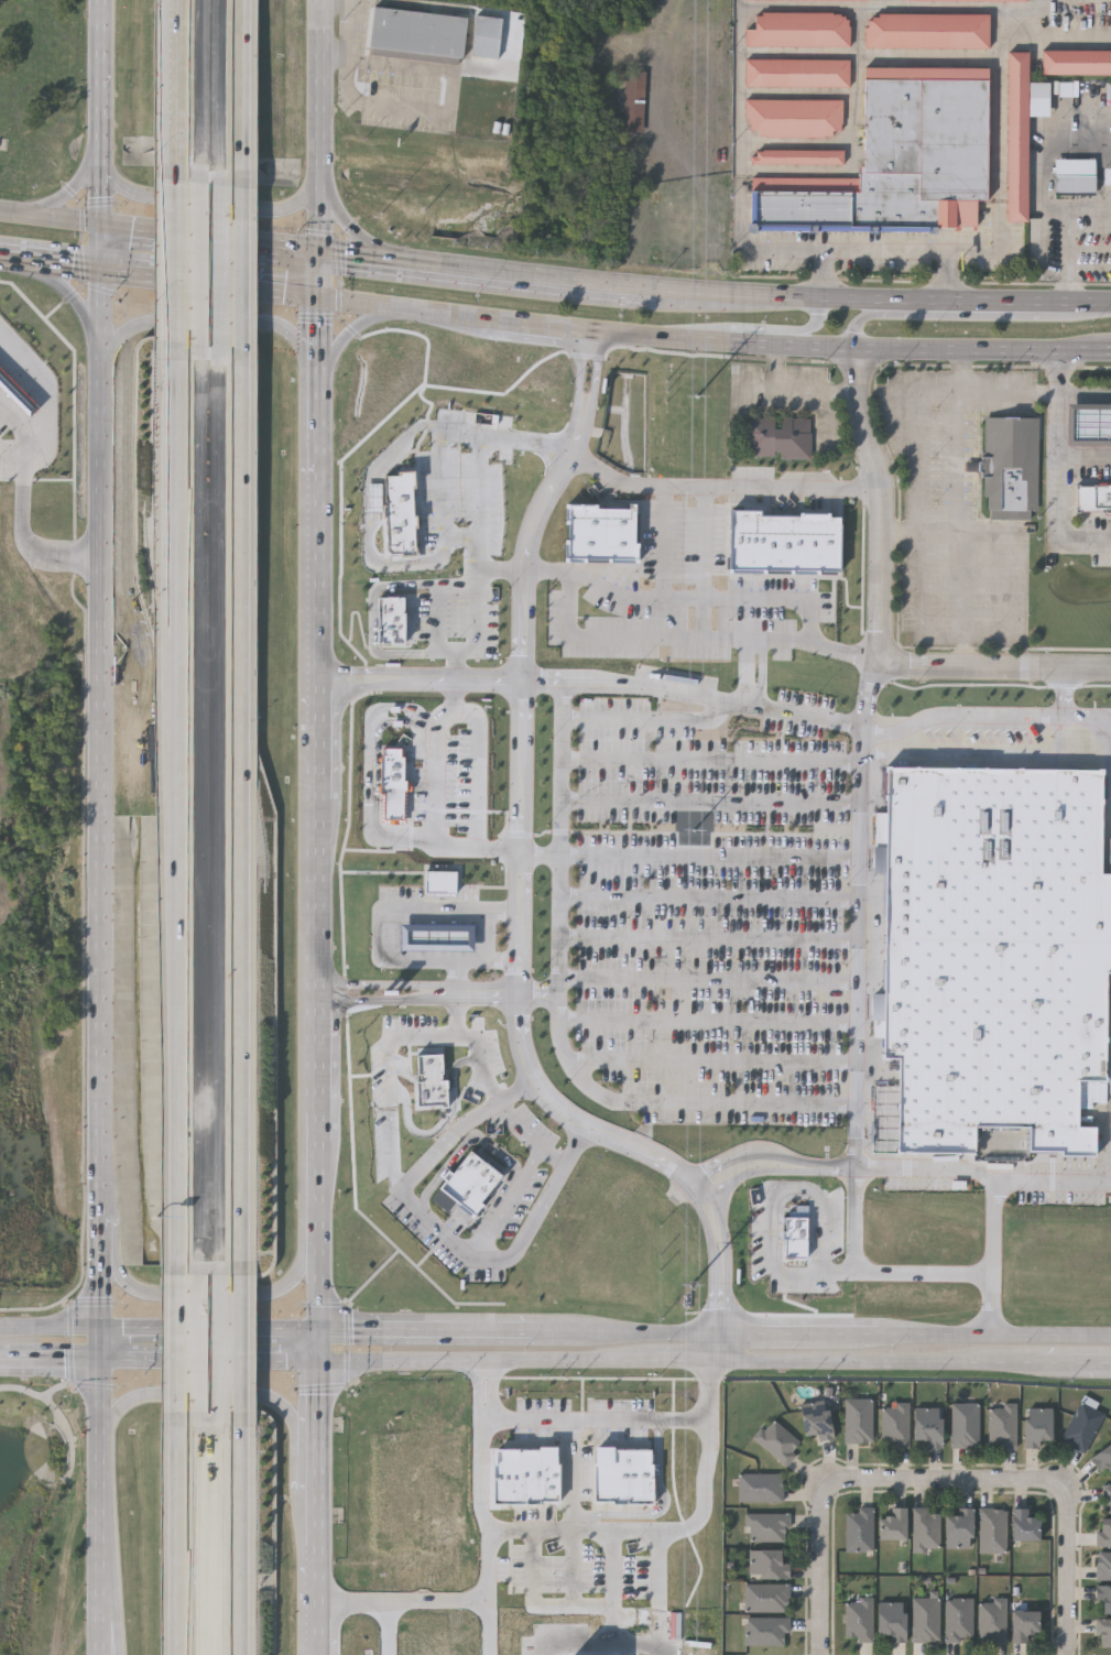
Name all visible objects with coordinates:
building: (955, 0)
building: (798, 29)
building: (927, 29)
road: (352, 34)
building: (418, 34)
building: (487, 36)
building: (1076, 61)
building: (796, 72)
road: (176, 90)
road: (240, 92)
building: (635, 99)
road: (455, 110)
road: (99, 111)
building: (794, 117)
road: (320, 124)
building: (1017, 134)
building: (797, 155)
building: (903, 157)
building: (1075, 176)
building: (1107, 176)
road: (61, 197)
road: (211, 202)
road: (1047, 206)
road: (1090, 207)
road: (50, 219)
traffic signals: (100, 225)
road: (1003, 229)
road: (152, 231)
road: (367, 233)
road: (261, 244)
road: (99, 248)
traffic signals: (319, 251)
road: (173, 262)
road: (48, 266)
road: (238, 269)
traffic signals: (98, 272)
road: (318, 274)
road: (153, 277)
road: (946, 277)
road: (263, 291)
road: (62, 292)
road: (714, 296)
traffic signals: (318, 297)
road: (959, 315)
road: (208, 323)
road: (355, 326)
road: (758, 331)
road: (714, 341)
road: (960, 372)
road: (1087, 380)
road: (758, 386)
road: (799, 389)
building: (17, 392)
road: (45, 395)
power tower: (697, 398)
road: (915, 404)
road: (832, 417)
building: (1089, 424)
gas station: (1089, 424)
building: (781, 437)
road: (1087, 445)
road: (483, 459)
road: (958, 462)
road: (1063, 464)
building: (1012, 466)
road: (446, 478)
road: (720, 488)
building: (1094, 498)
road: (544, 503)
building: (397, 513)
road: (20, 515)
road: (373, 520)
building: (602, 534)
road: (665, 543)
building: (786, 543)
road: (702, 563)
road: (1009, 563)
road: (459, 581)
road: (965, 584)
road: (708, 598)
road: (478, 612)
road: (923, 613)
road: (439, 617)
road: (881, 619)
building: (392, 620)
road: (372, 621)
road: (606, 636)
road: (784, 641)
road: (447, 650)
road: (418, 680)
road: (609, 685)
road: (873, 693)
road: (1060, 698)
road: (101, 715)
road: (650, 720)
road: (991, 729)
road: (717, 760)
road: (479, 774)
road: (373, 782)
road: (435, 782)
building: (393, 785)
road: (717, 797)
road: (176, 809)
road: (241, 813)
power tower: (696, 831)
road: (564, 838)
road: (694, 856)
building: (442, 882)
road: (714, 895)
road: (489, 916)
road: (388, 917)
building: (446, 922)
gas station: (446, 922)
road: (711, 936)
building: (438, 937)
building: (992, 950)
road: (473, 958)
road: (313, 976)
road: (709, 978)
road: (416, 991)
road: (710, 1019)
road: (394, 1055)
road: (717, 1060)
building: (433, 1081)
road: (653, 1101)
road: (532, 1139)
road: (982, 1171)
building: (469, 1184)
road: (101, 1185)
road: (509, 1201)
road: (443, 1231)
building: (798, 1233)
road: (993, 1254)
road: (101, 1269)
road: (872, 1269)
road: (210, 1295)
power tower: (688, 1298)
road: (51, 1327)
traffic signals: (101, 1327)
road: (211, 1329)
traffic signals: (322, 1331)
road: (429, 1331)
road: (629, 1332)
road: (774, 1335)
road: (854, 1336)
road: (994, 1337)
road: (172, 1344)
road: (237, 1344)
road: (718, 1347)
road: (51, 1357)
traffic signals: (102, 1358)
road: (211, 1358)
traffic signals: (320, 1358)
road: (685, 1360)
road: (1070, 1363)
road: (1100, 1364)
road: (215, 1395)
road: (628, 1417)
building: (815, 1417)
building: (857, 1419)
building: (894, 1424)
building: (926, 1424)
building: (965, 1424)
building: (1001, 1424)
building: (1082, 1424)
building: (1035, 1425)
building: (776, 1440)
building: (1102, 1458)
road: (576, 1474)
building: (526, 1476)
building: (624, 1476)
road: (945, 1477)
building: (759, 1488)
road: (104, 1490)
building: (1107, 1496)
building: (893, 1523)
building: (1023, 1525)
building: (766, 1526)
building: (925, 1528)
building: (959, 1528)
building: (858, 1529)
building: (991, 1531)
road: (647, 1532)
building: (1103, 1533)
road: (239, 1534)
road: (174, 1535)
building: (766, 1564)
building: (1103, 1565)
road: (487, 1568)
road: (1068, 1569)
road: (823, 1570)
road: (609, 1593)
road: (654, 1593)
building: (766, 1598)
building: (1103, 1598)
road: (111, 1613)
building: (859, 1619)
building: (892, 1619)
building: (991, 1619)
building: (925, 1620)
building: (958, 1620)
building: (1023, 1624)
road: (487, 1632)
building: (766, 1632)
road: (383, 1633)
building: (1103, 1633)
road: (635, 1653)
road: (576, 1654)

